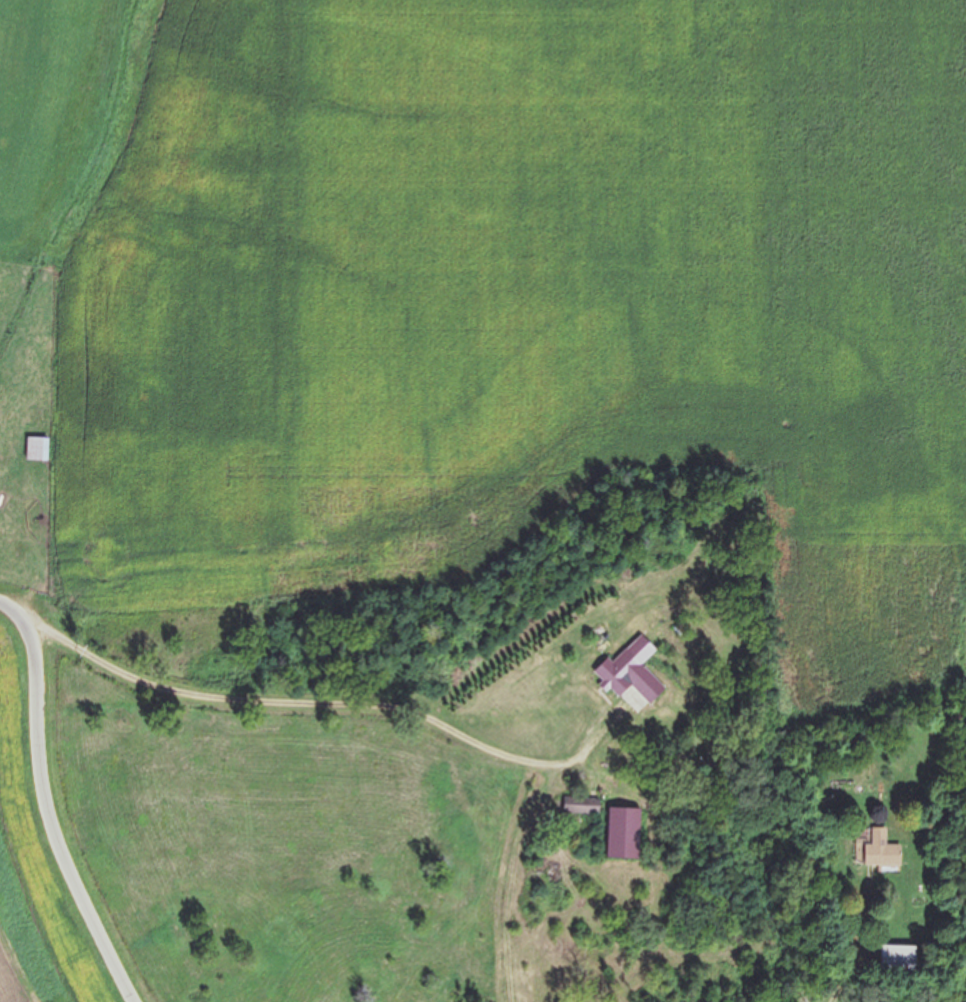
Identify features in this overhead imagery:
building: (35, 448)
building: (628, 670)
road: (302, 705)
road: (44, 802)
building: (579, 806)
building: (879, 850)

